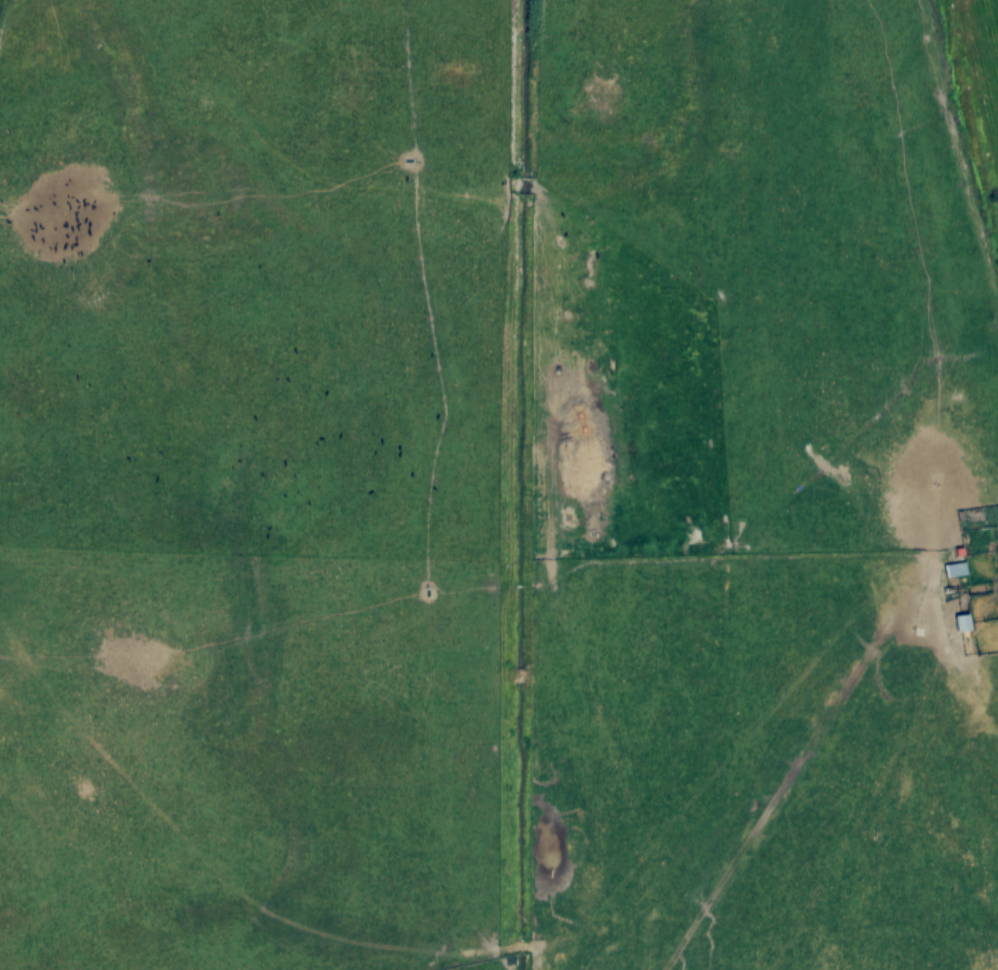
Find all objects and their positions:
building: (956, 569)
building: (963, 623)

